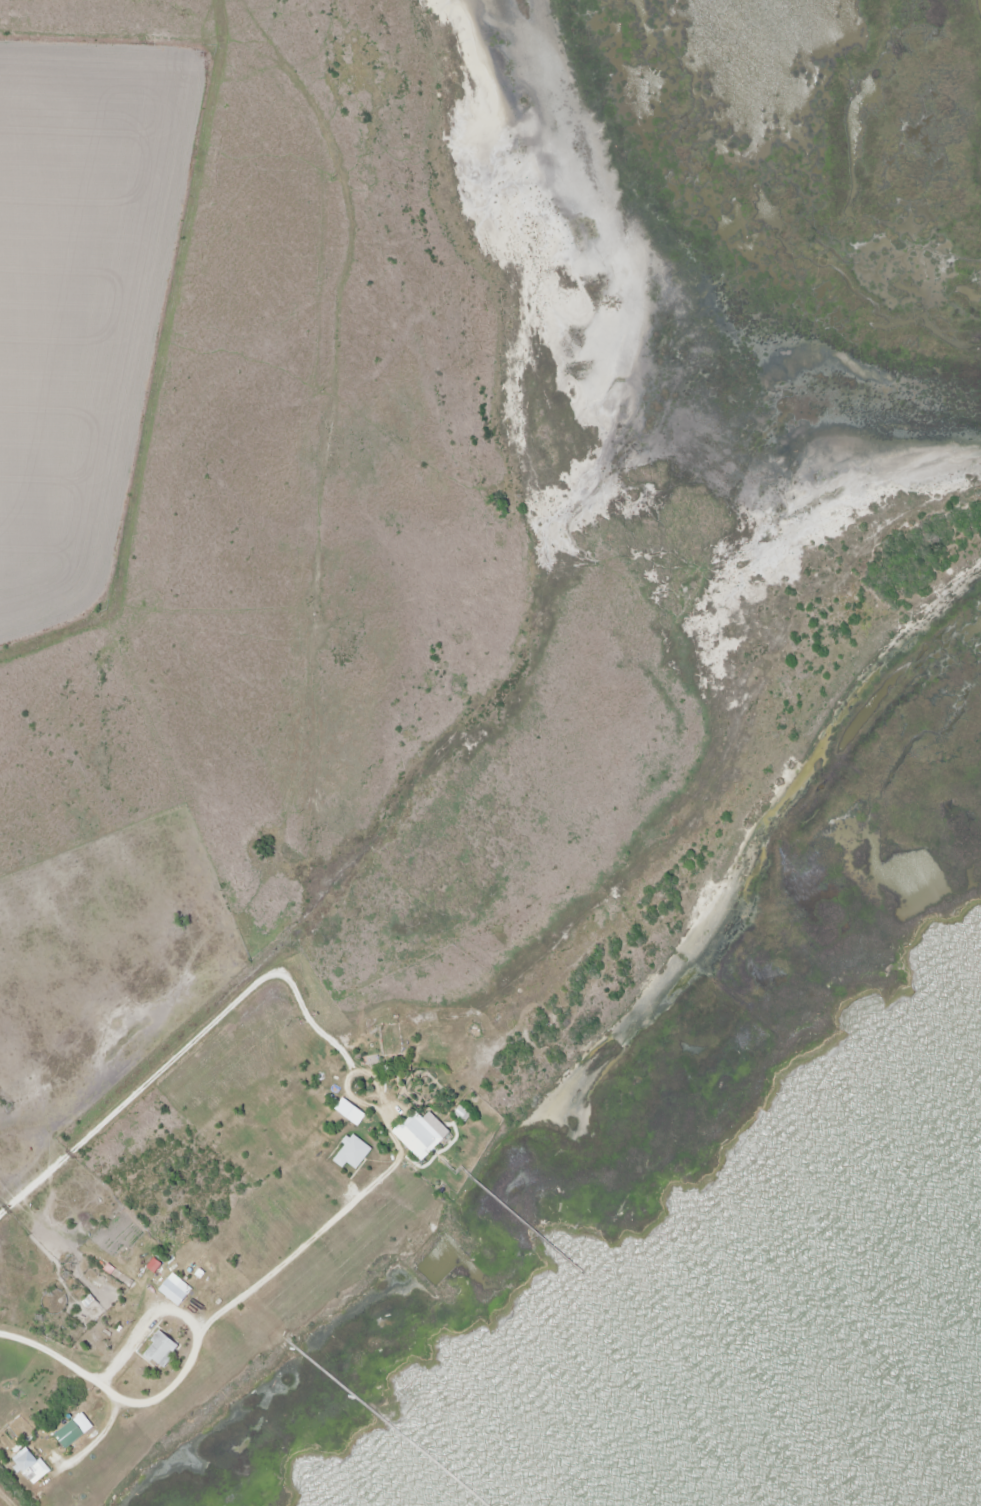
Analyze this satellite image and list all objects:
building: (420, 1136)
building: (354, 1154)
building: (176, 1290)
road: (201, 1327)
building: (163, 1350)
building: (71, 1434)
building: (30, 1464)

